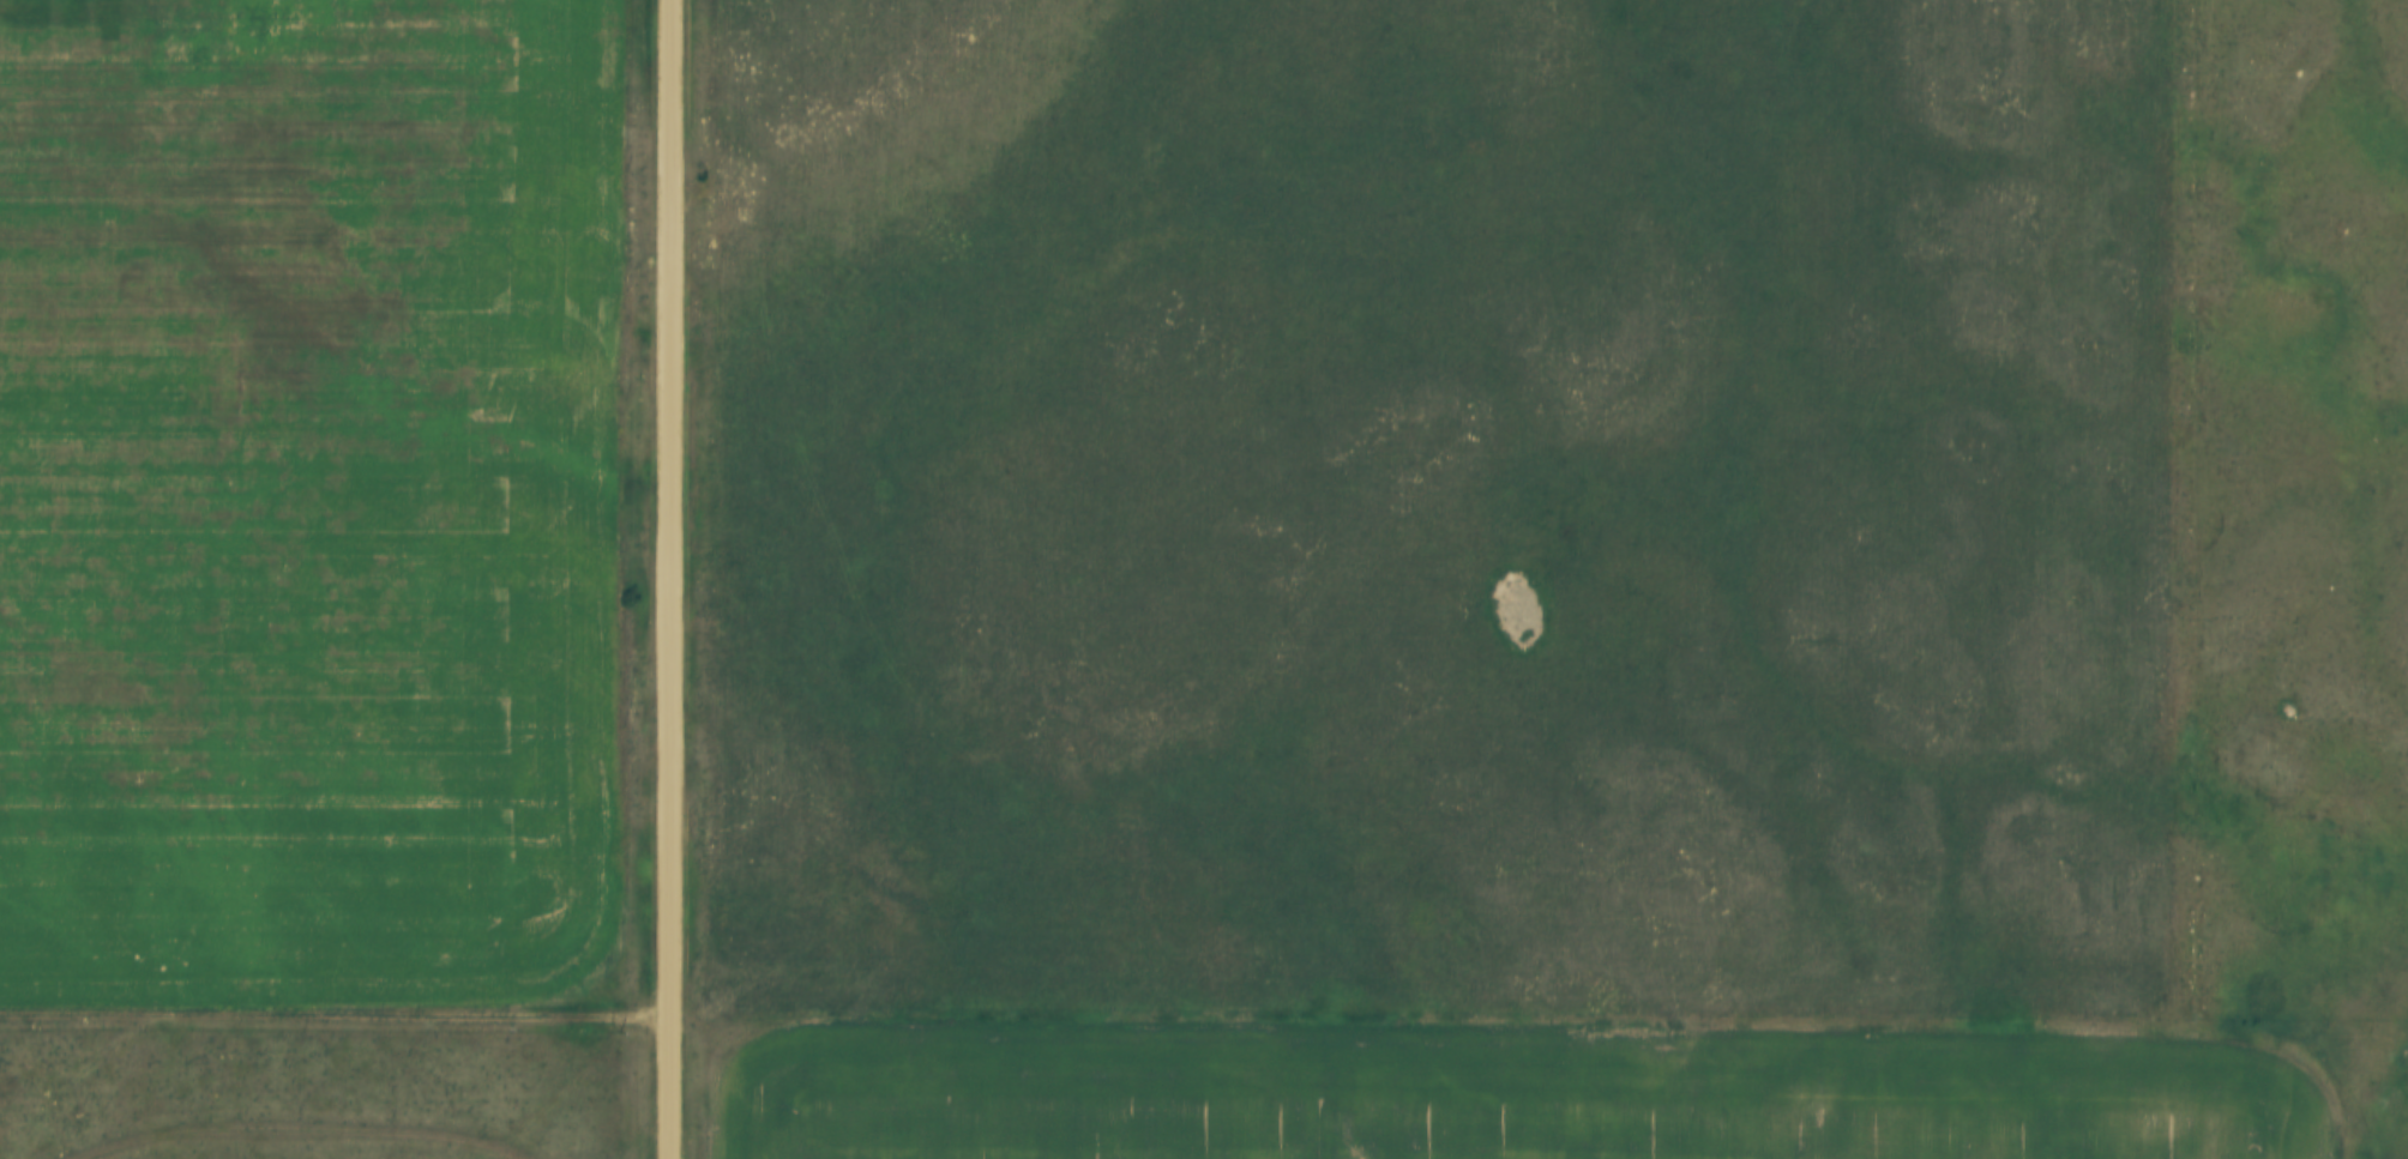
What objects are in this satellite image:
road: (670, 579)

